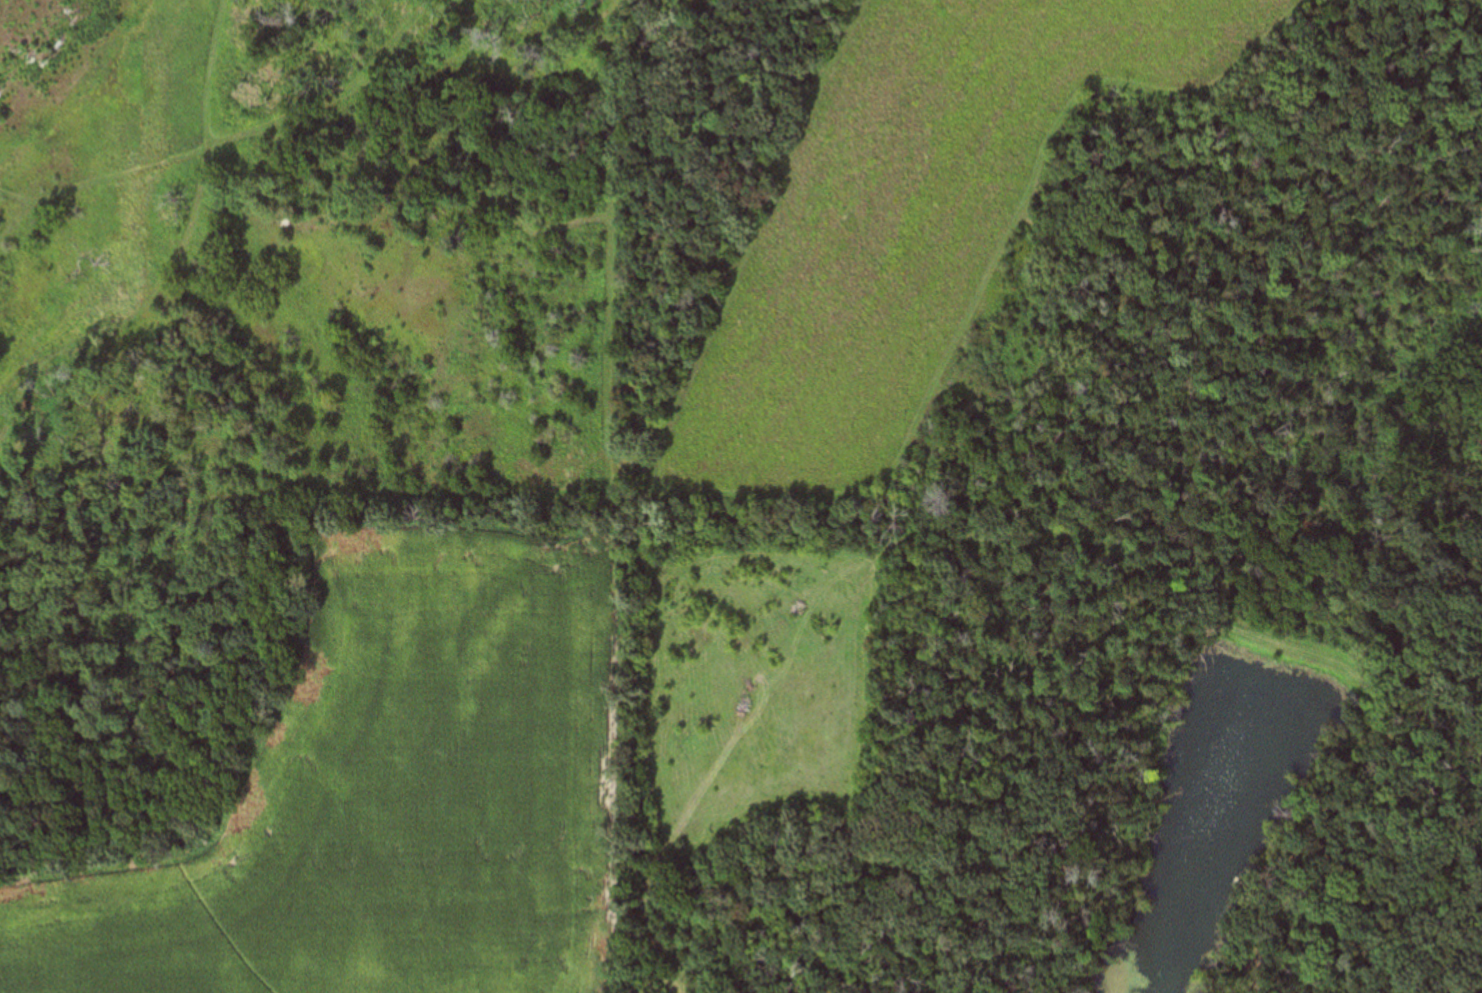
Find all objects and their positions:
road: (1290, 648)

